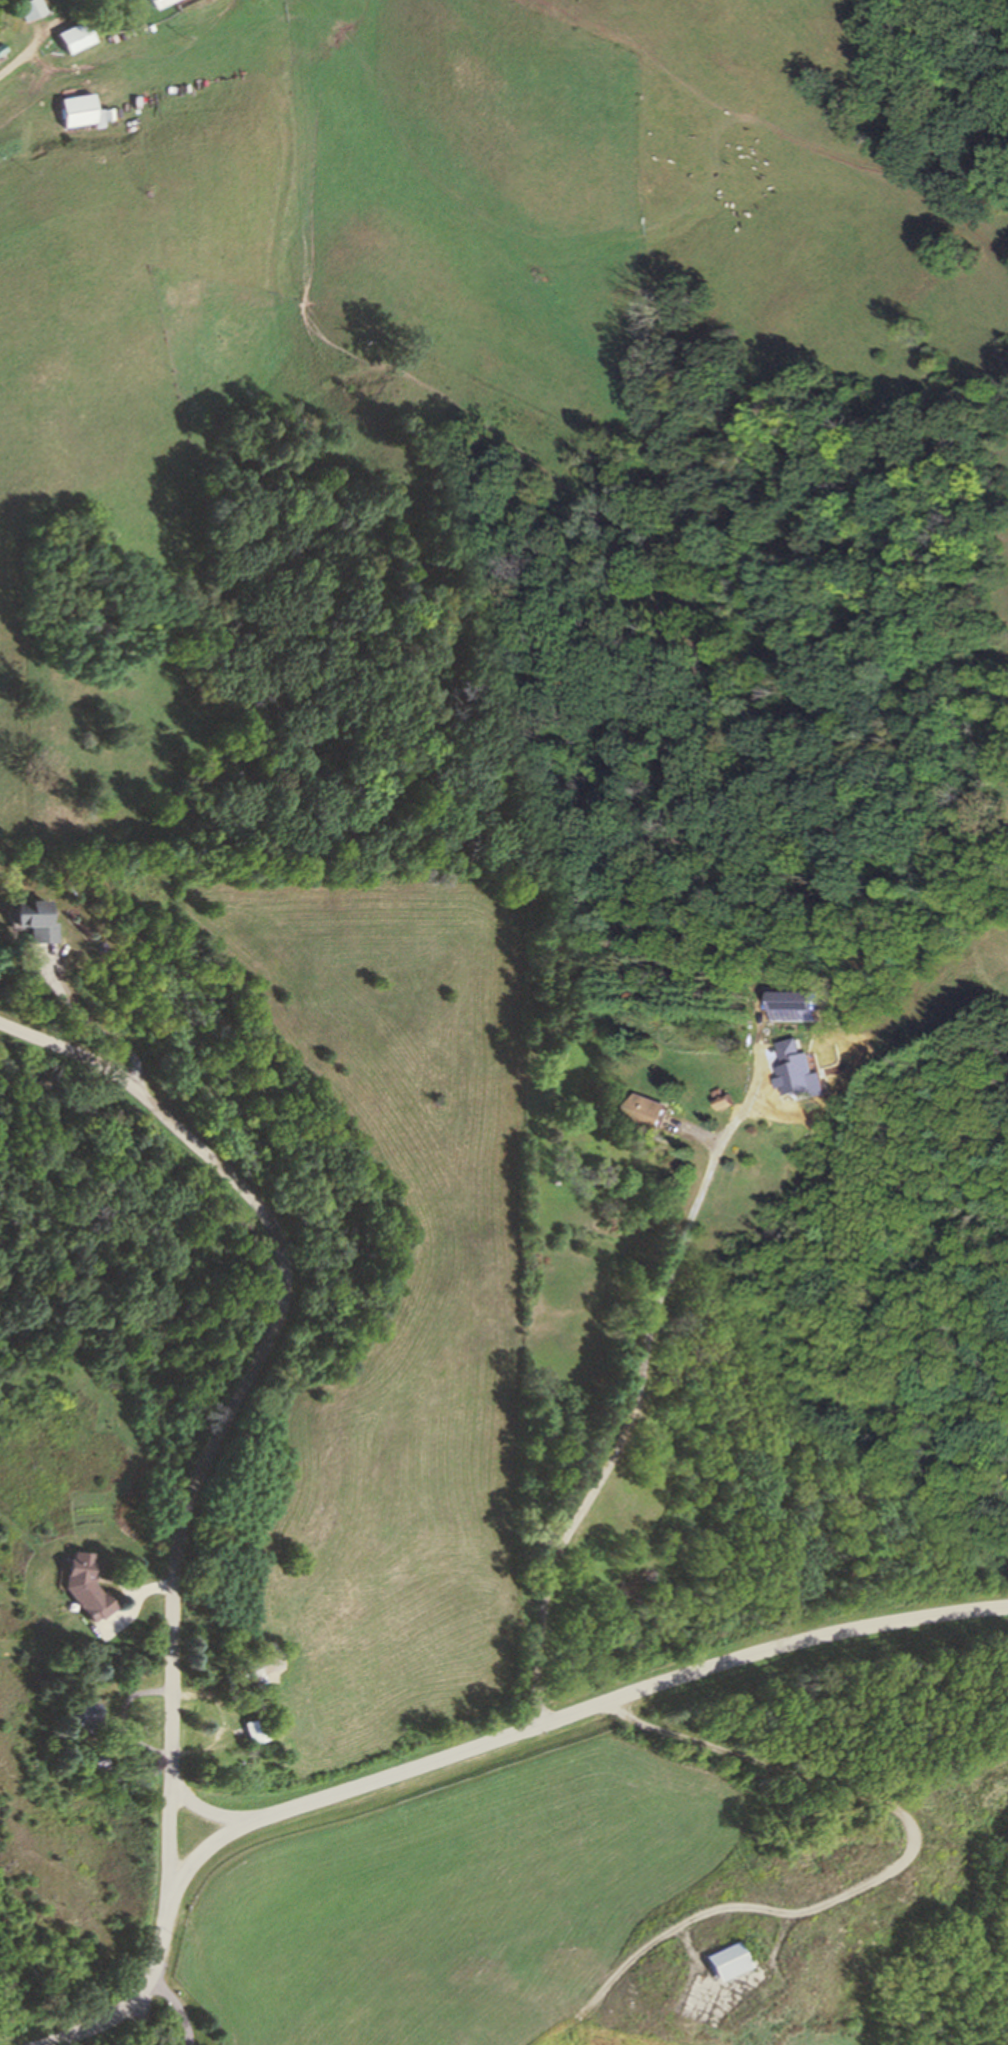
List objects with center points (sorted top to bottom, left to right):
building: (160, 2)
building: (34, 8)
building: (76, 33)
building: (3, 47)
road: (30, 57)
building: (139, 99)
building: (130, 103)
building: (86, 110)
building: (35, 918)
road: (90, 1023)
building: (724, 1098)
building: (648, 1110)
road: (240, 1396)
road: (636, 1416)
building: (87, 1584)
building: (200, 1666)
building: (251, 1674)
building: (83, 1716)
building: (255, 1729)
road: (473, 1749)
building: (98, 1762)
building: (1004, 1780)
road: (199, 1808)
building: (893, 1837)
building: (848, 1850)
building: (806, 1871)
building: (876, 1896)
building: (725, 1960)
road: (178, 2004)
road: (146, 2020)

